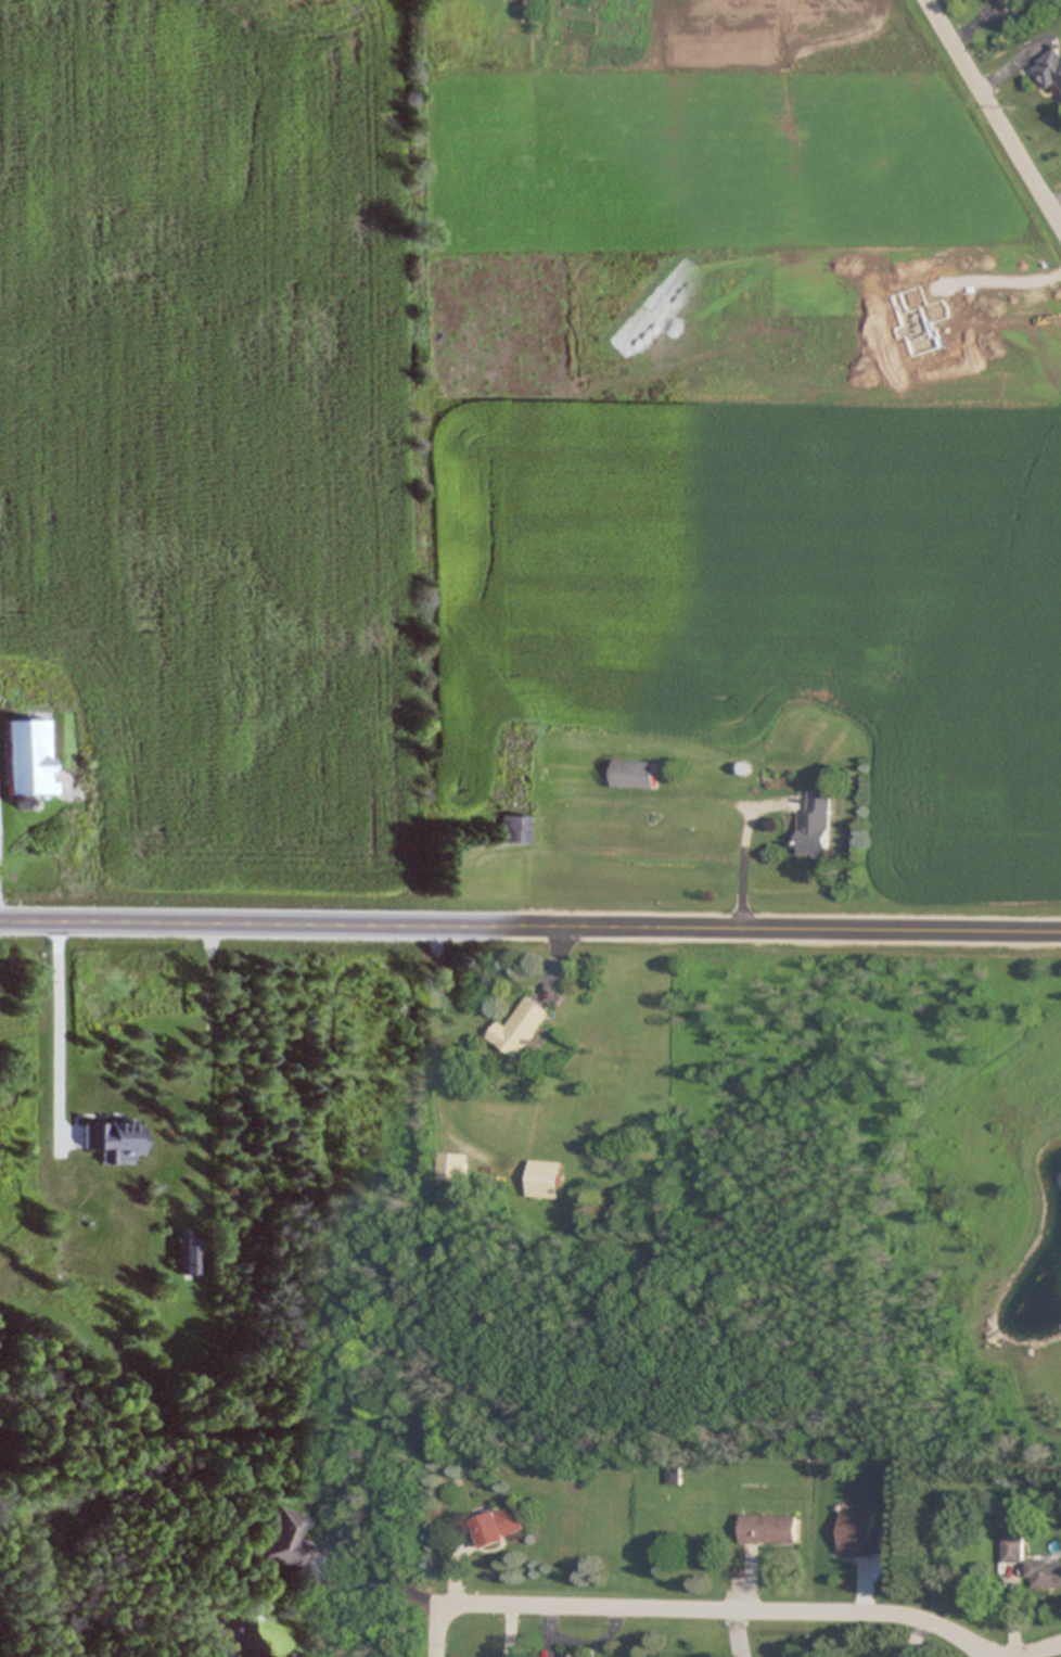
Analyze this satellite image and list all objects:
road: (985, 9)
road: (1009, 13)
road: (963, 31)
building: (1049, 72)
road: (992, 115)
building: (29, 757)
building: (637, 774)
building: (817, 827)
building: (513, 829)
road: (530, 925)
building: (196, 990)
building: (522, 1029)
road: (57, 1080)
building: (114, 1139)
building: (451, 1167)
building: (544, 1180)
building: (188, 1254)
building: (498, 1526)
building: (769, 1529)
building: (285, 1541)
building: (1012, 1550)
building: (1044, 1572)
road: (717, 1611)
road: (436, 1631)
road: (1043, 1650)
building: (574, 1656)

